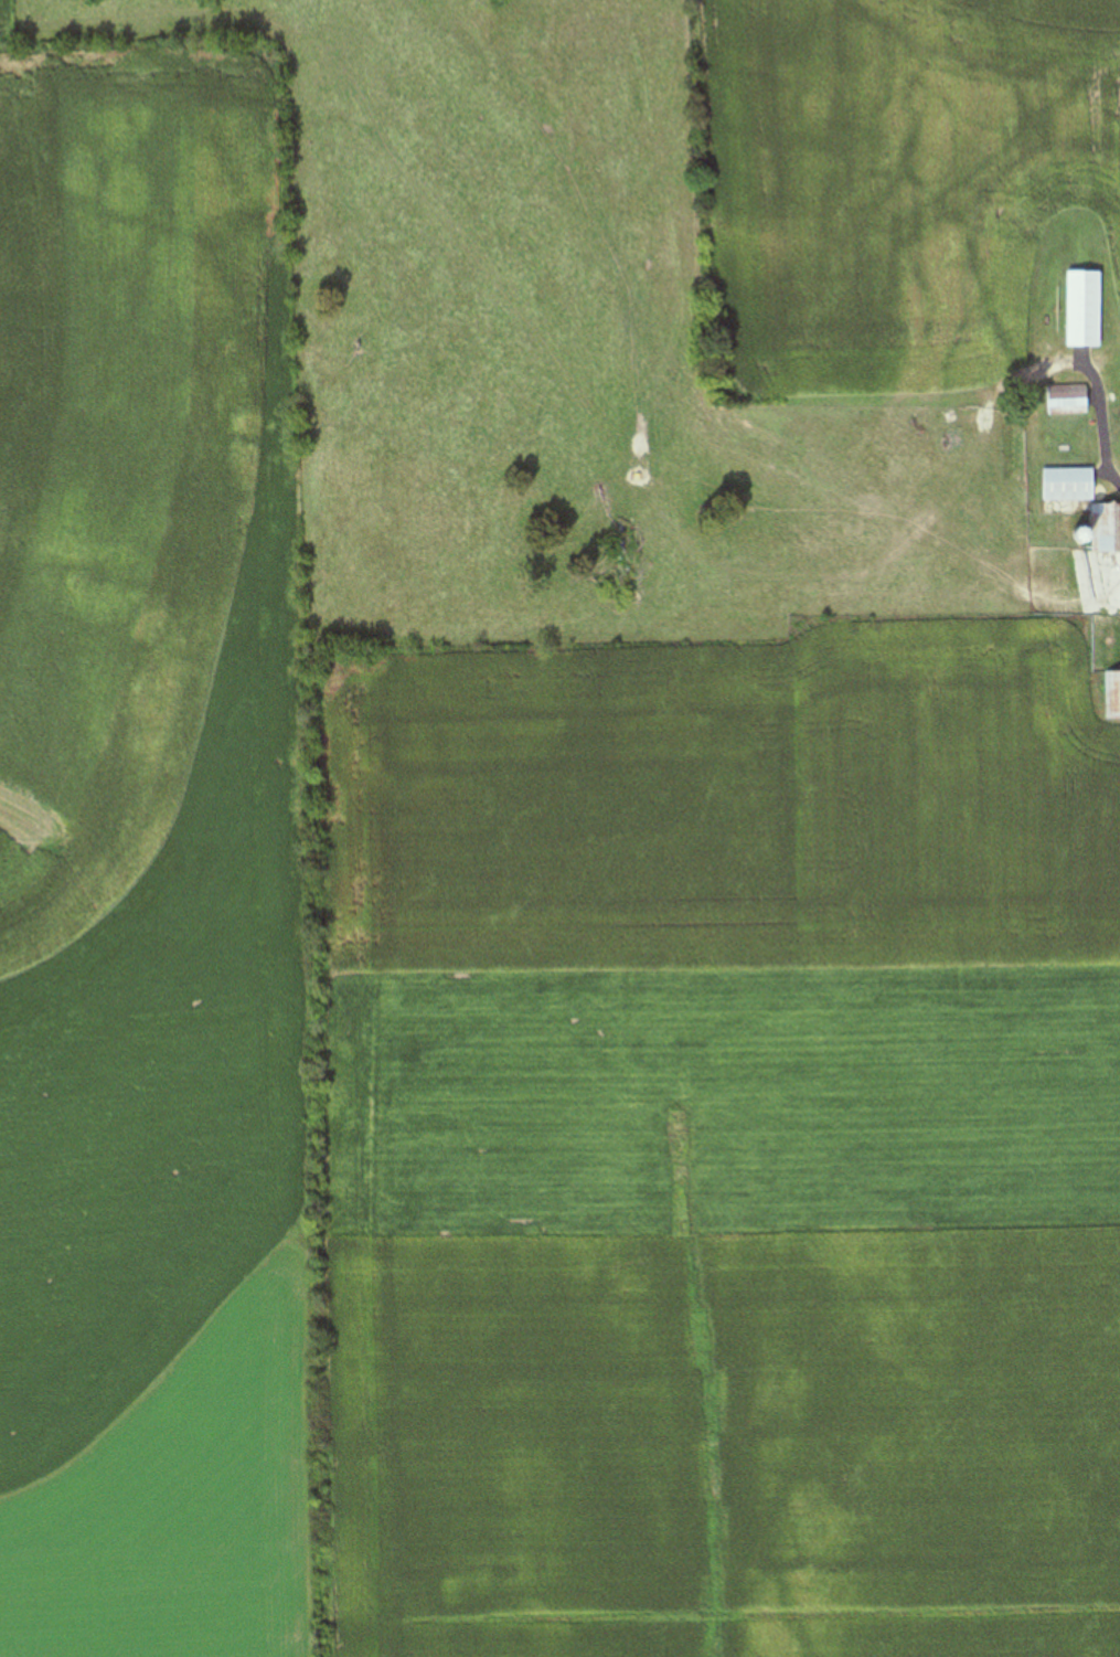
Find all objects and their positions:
building: (1084, 310)
building: (1067, 401)
road: (1102, 427)
building: (1068, 486)
building: (1106, 530)
building: (1112, 697)

